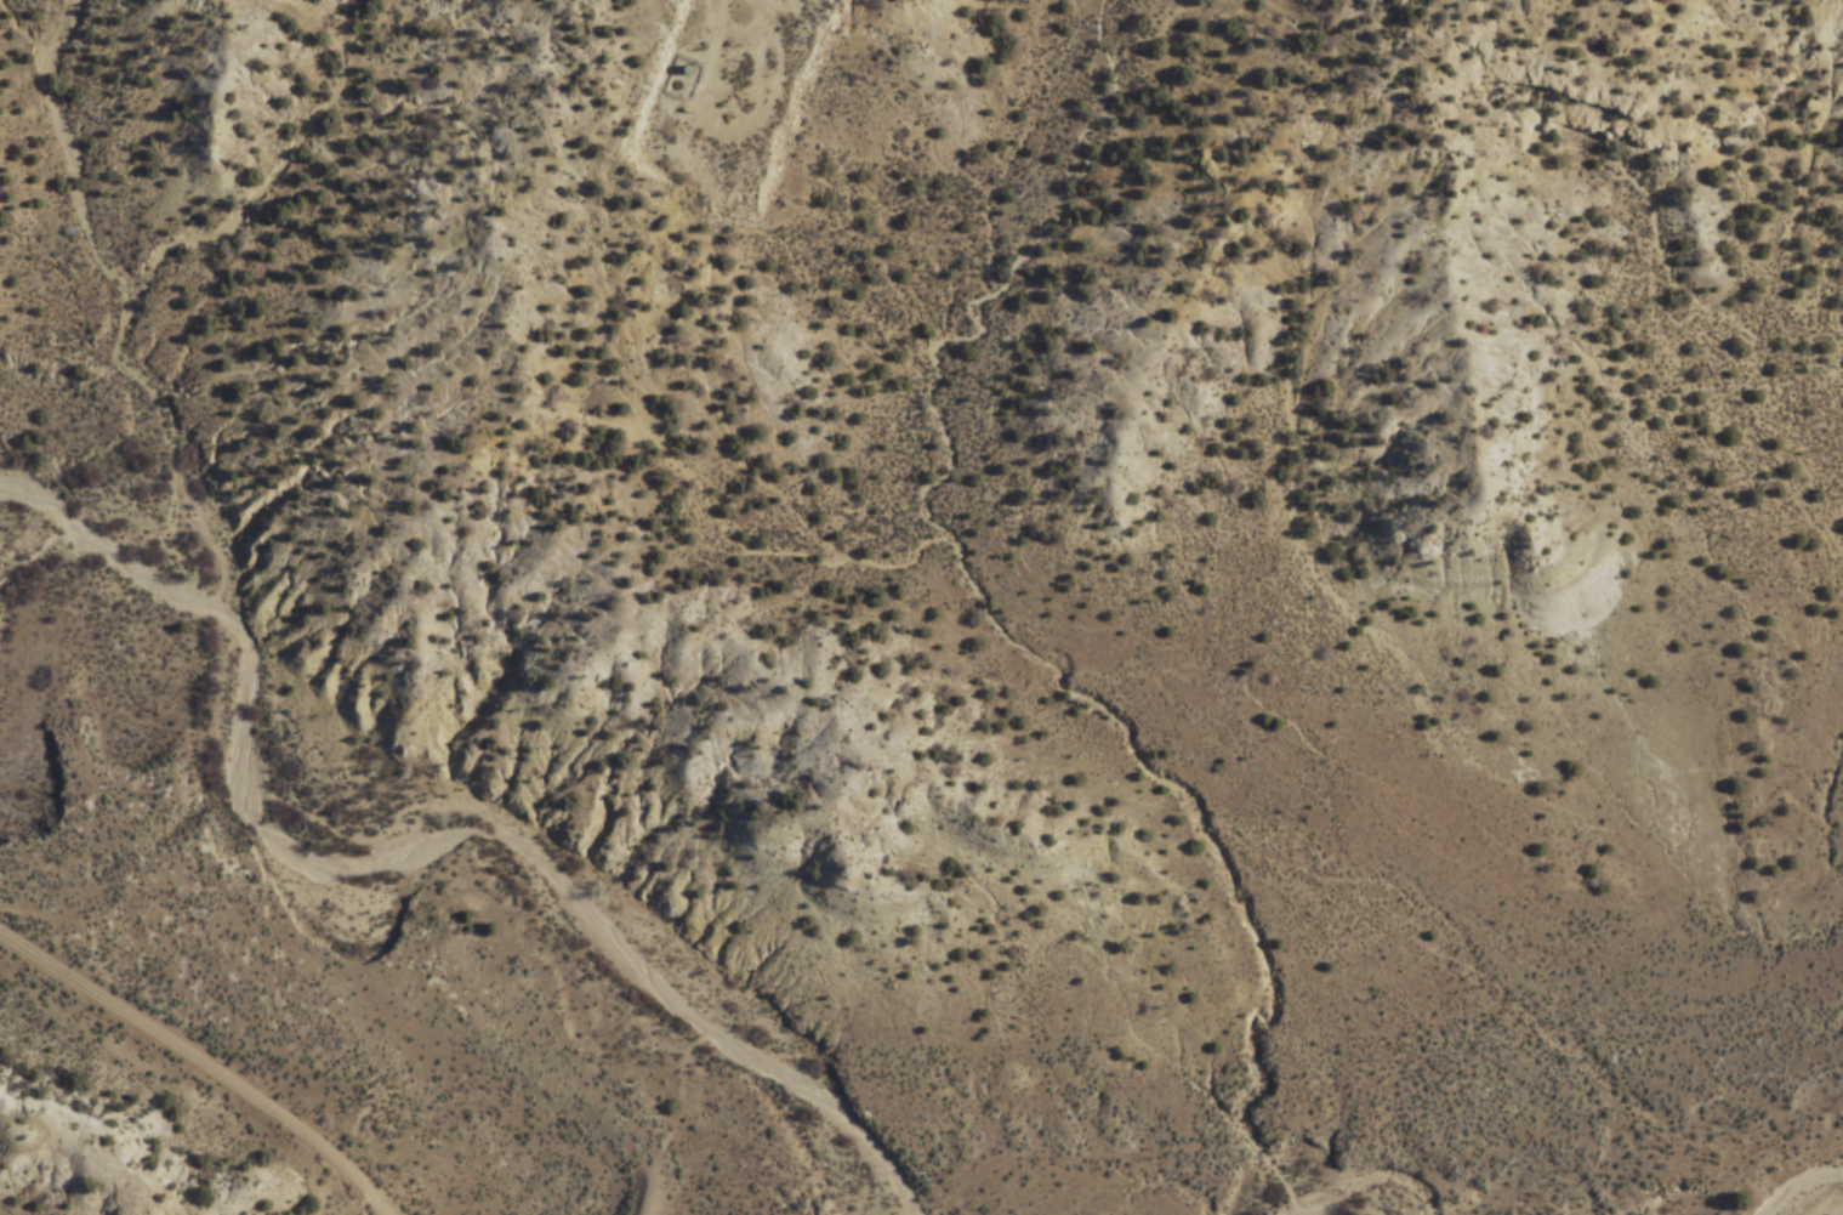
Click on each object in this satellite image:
river: (336, 844)
road: (200, 1064)

